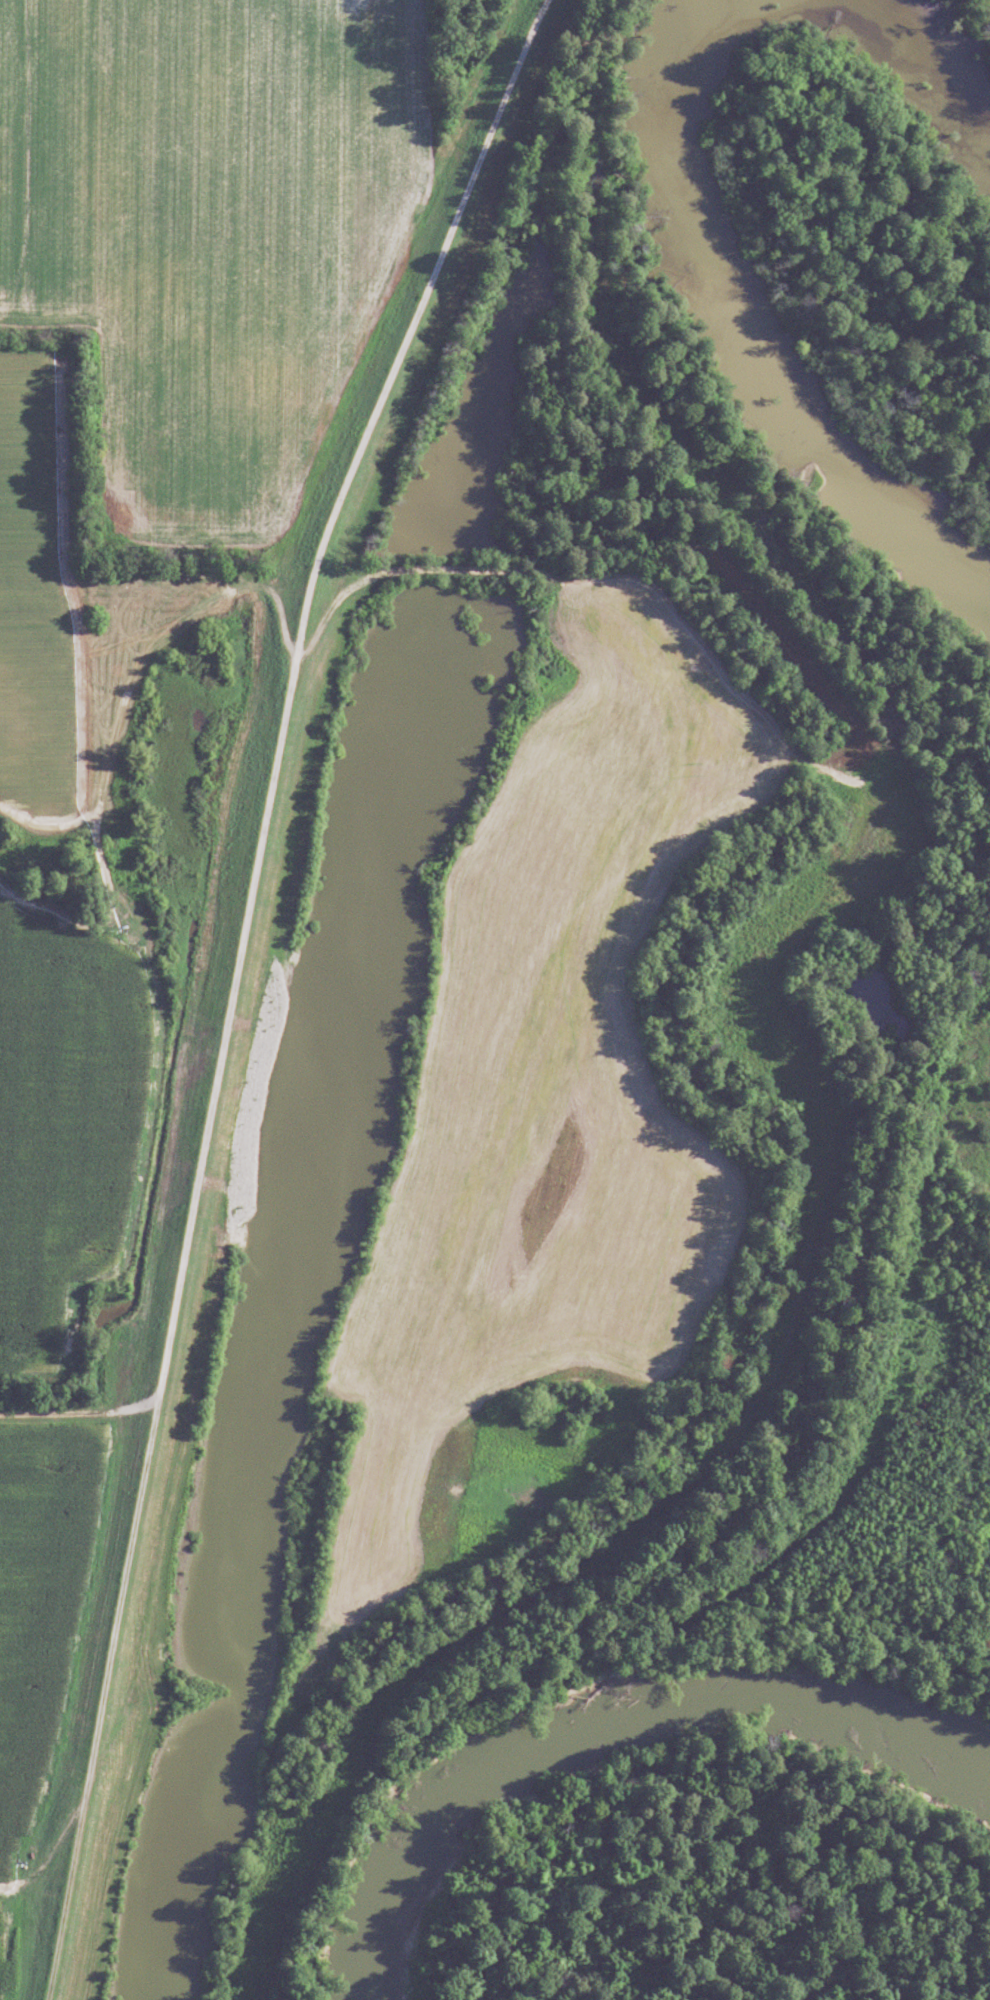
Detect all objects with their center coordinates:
river: (607, 1728)

